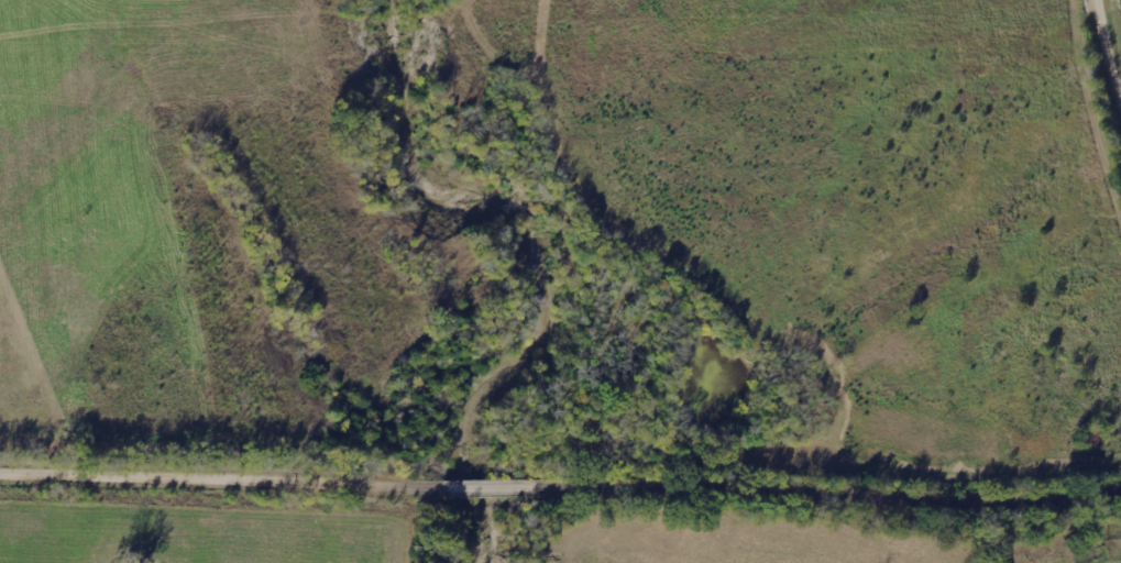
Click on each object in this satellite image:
road: (1113, 34)
road: (487, 494)
road: (1047, 508)

